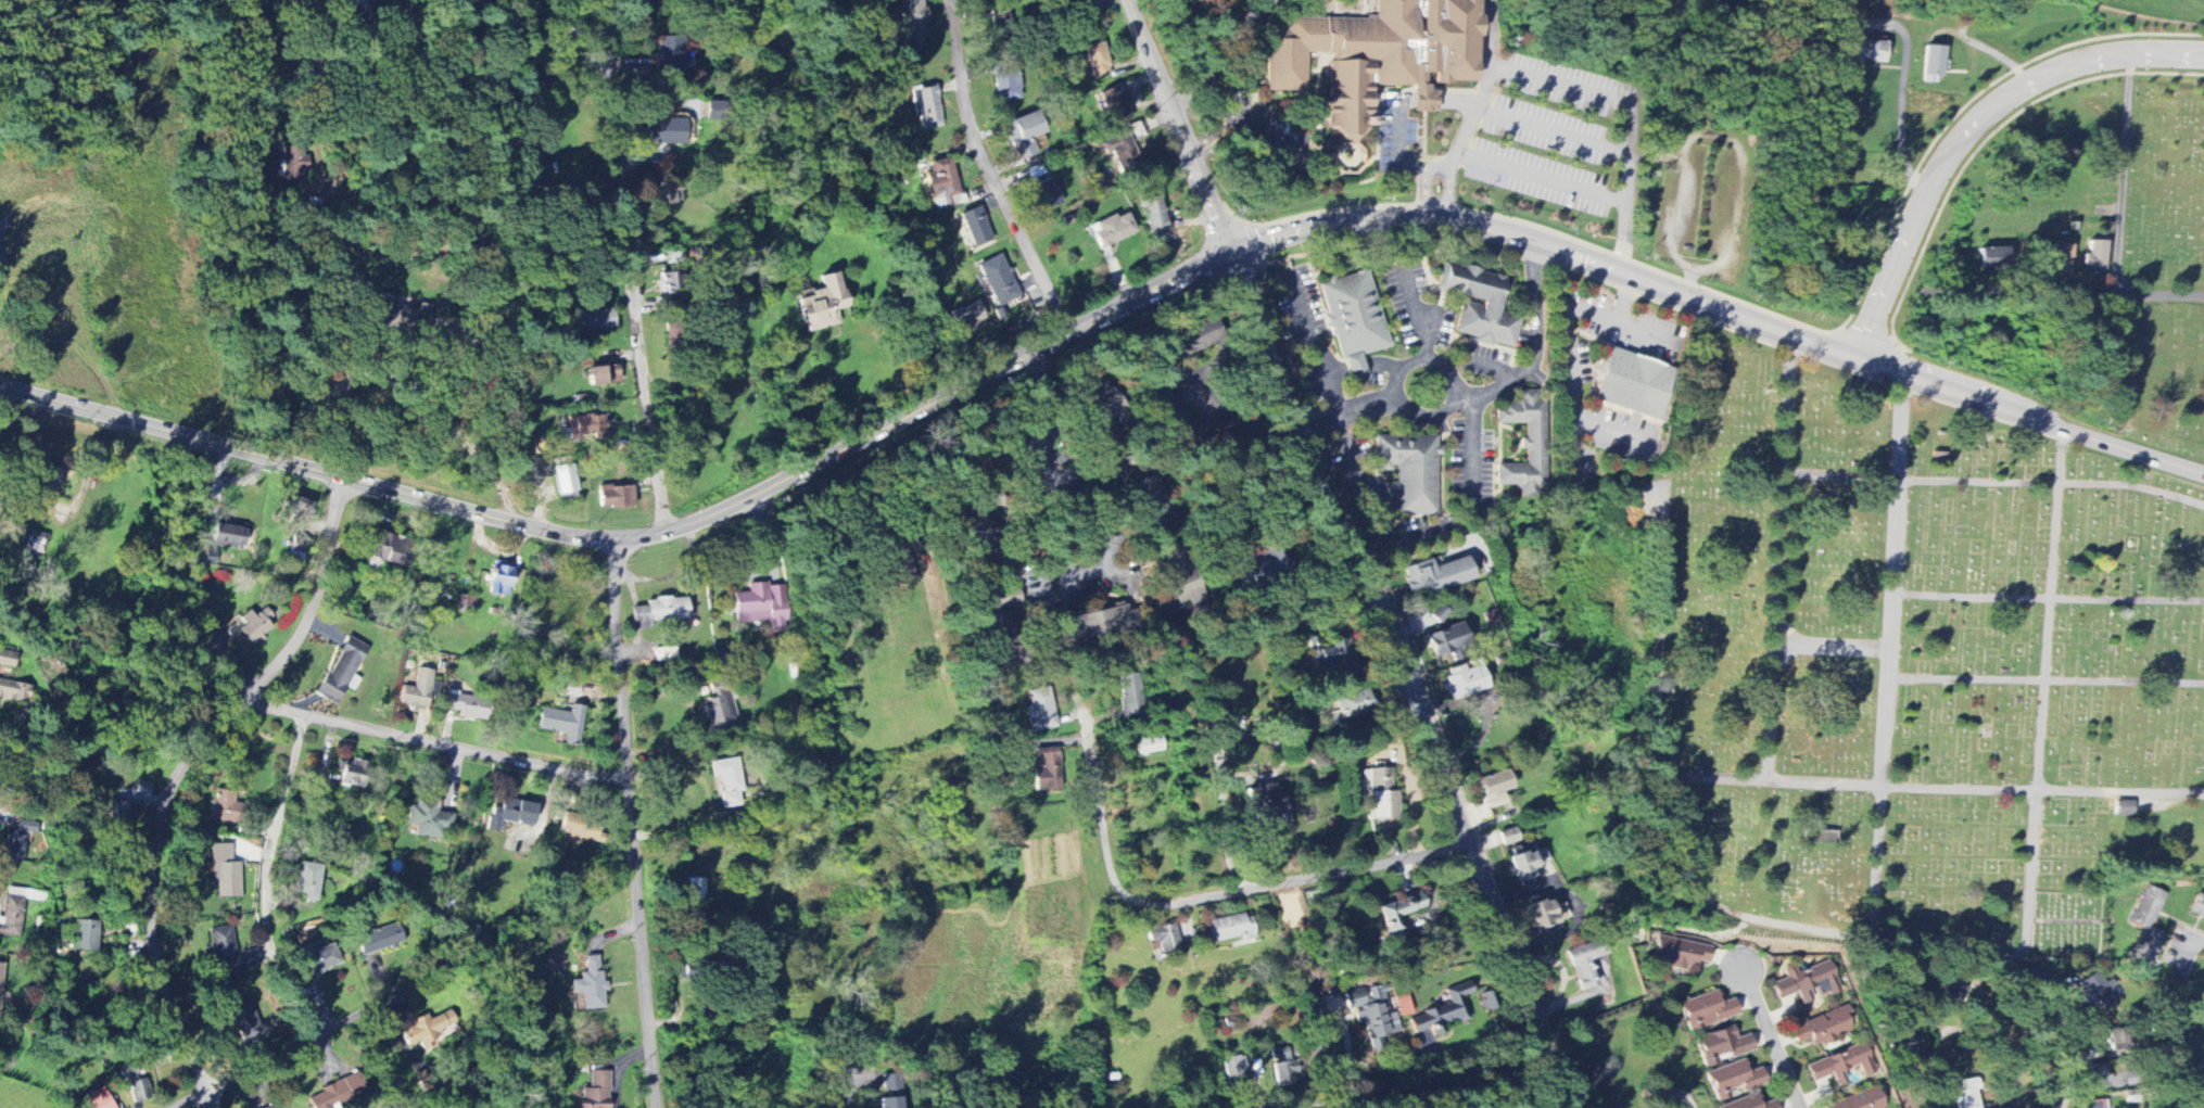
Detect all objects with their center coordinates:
building: (356, 5)
building: (912, 24)
building: (1870, 51)
road: (1225, 53)
building: (1379, 56)
building: (670, 58)
building: (1098, 61)
building: (1934, 63)
building: (1006, 85)
road: (1902, 99)
building: (1114, 106)
building: (926, 109)
road: (1477, 112)
road: (1965, 122)
road: (1256, 123)
road: (1553, 130)
building: (666, 131)
building: (1023, 135)
road: (1627, 143)
road: (1202, 147)
road: (1398, 147)
building: (1122, 152)
building: (295, 164)
road: (991, 167)
road: (1257, 168)
building: (527, 169)
road: (1430, 170)
road: (1442, 170)
road: (2124, 170)
park: (2165, 188)
road: (1424, 193)
road: (1448, 193)
building: (1046, 194)
building: (662, 199)
building: (1153, 212)
building: (974, 227)
building: (1112, 230)
road: (1626, 232)
traffic signals: (1238, 241)
building: (2095, 256)
building: (1993, 258)
building: (2062, 260)
road: (492, 264)
road: (638, 269)
building: (998, 281)
building: (669, 284)
road: (1631, 291)
road: (2087, 292)
road: (1639, 293)
building: (1491, 304)
building: (823, 305)
road: (1724, 306)
building: (391, 315)
road: (1079, 317)
building: (964, 318)
building: (594, 320)
building: (1354, 320)
building: (1190, 341)
road: (1428, 347)
building: (603, 375)
park: (2156, 375)
building: (1633, 385)
road: (410, 390)
road: (1484, 393)
road: (1191, 394)
building: (1171, 410)
road: (1605, 422)
building: (587, 425)
building: (1525, 444)
road: (1472, 447)
road: (291, 455)
building: (1409, 473)
building: (563, 480)
road: (1996, 481)
building: (45, 482)
building: (1140, 486)
road: (761, 488)
building: (616, 497)
road: (1369, 502)
building: (299, 509)
building: (977, 534)
building: (227, 537)
building: (30, 545)
building: (297, 547)
road: (1365, 548)
building: (385, 549)
road: (1781, 552)
building: (1261, 569)
road: (1023, 571)
building: (1435, 576)
building: (499, 580)
building: (1182, 587)
road: (2047, 597)
building: (762, 608)
building: (658, 612)
building: (255, 625)
building: (999, 625)
building: (1097, 626)
building: (1448, 640)
road: (1832, 642)
building: (1335, 657)
building: (7, 660)
park: (1912, 668)
building: (340, 672)
road: (2044, 679)
building: (1465, 682)
building: (14, 691)
building: (417, 691)
building: (1130, 698)
building: (1354, 704)
building: (467, 705)
building: (720, 709)
building: (1040, 711)
building: (562, 724)
road: (434, 741)
building: (1148, 746)
road: (1223, 748)
road: (182, 770)
building: (1047, 770)
building: (350, 775)
building: (727, 782)
road: (1937, 787)
building: (1495, 789)
building: (1382, 795)
building: (1269, 806)
building: (223, 807)
building: (2124, 810)
building: (117, 815)
building: (510, 816)
road: (631, 820)
building: (428, 823)
building: (581, 830)
building: (1508, 837)
building: (13, 849)
building: (1524, 863)
building: (224, 873)
building: (307, 882)
road: (1192, 897)
building: (2197, 907)
building: (1398, 913)
building: (1545, 916)
building: (1609, 916)
building: (11, 918)
building: (1232, 929)
building: (2146, 929)
road: (268, 934)
building: (85, 937)
building: (1163, 939)
road: (2194, 939)
building: (378, 942)
road: (1928, 945)
building: (1680, 954)
building: (318, 959)
building: (227, 961)
building: (0, 966)
building: (1589, 968)
road: (2028, 969)
building: (1806, 983)
building: (590, 986)
building: (2101, 995)
road: (359, 999)
building: (1402, 1006)
building: (1706, 1011)
building: (1371, 1014)
building: (1440, 1017)
building: (245, 1021)
building: (1823, 1029)
building: (426, 1030)
road: (1772, 1040)
building: (2118, 1040)
building: (1905, 1043)
building: (1722, 1047)
building: (1842, 1066)
building: (1283, 1067)
building: (127, 1073)
building: (1233, 1073)
building: (1733, 1081)
road: (456, 1090)
building: (139, 1091)
building: (594, 1092)
building: (890, 1092)
building: (332, 1095)
building: (1965, 1095)
road: (1386, 1098)
building: (98, 1099)
road: (833, 1100)
building: (1863, 1100)
road: (200, 1103)
building: (1749, 1104)
building: (2091, 1105)
building: (270, 1107)
building: (2107, 1107)

